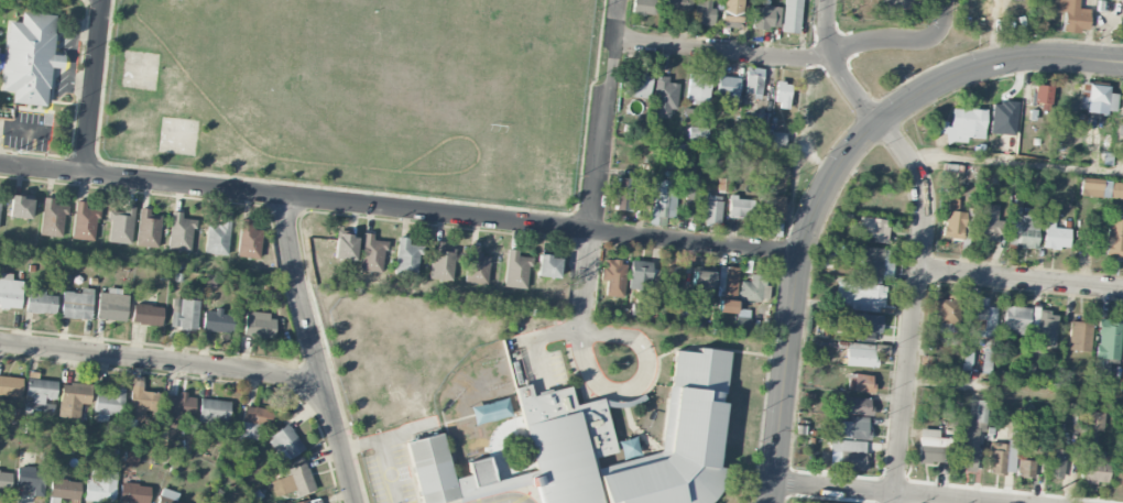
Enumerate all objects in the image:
building: (1122, 1)
building: (678, 4)
building: (895, 4)
building: (643, 7)
building: (704, 12)
building: (732, 13)
building: (791, 15)
building: (1072, 15)
building: (766, 17)
road: (903, 41)
road: (723, 50)
building: (29, 57)
road: (994, 63)
road: (838, 67)
building: (752, 83)
building: (639, 84)
building: (698, 86)
road: (96, 87)
building: (727, 87)
park: (361, 91)
building: (782, 92)
building: (1042, 96)
building: (664, 97)
building: (1027, 97)
building: (1097, 97)
road: (604, 117)
building: (961, 124)
building: (697, 133)
building: (752, 135)
building: (777, 139)
road: (1016, 163)
building: (1101, 188)
building: (624, 194)
building: (693, 198)
building: (663, 200)
building: (0, 201)
building: (770, 206)
building: (21, 207)
building: (740, 207)
building: (712, 208)
road: (399, 210)
building: (52, 218)
building: (952, 219)
building: (84, 221)
building: (988, 222)
building: (120, 225)
building: (148, 228)
building: (873, 228)
building: (775, 229)
building: (1022, 229)
building: (181, 231)
building: (218, 237)
building: (1055, 237)
building: (1114, 238)
building: (249, 239)
building: (345, 247)
building: (371, 253)
building: (406, 256)
building: (869, 260)
building: (440, 261)
building: (476, 265)
building: (548, 265)
building: (516, 270)
building: (668, 274)
building: (639, 275)
building: (613, 276)
road: (1021, 277)
building: (727, 278)
road: (585, 281)
building: (701, 282)
building: (753, 288)
building: (10, 292)
building: (728, 295)
building: (860, 295)
road: (794, 299)
building: (40, 300)
building: (76, 305)
building: (112, 305)
building: (726, 306)
road: (914, 306)
road: (305, 309)
building: (642, 309)
building: (948, 309)
building: (146, 314)
building: (185, 314)
building: (981, 317)
building: (1015, 319)
building: (216, 320)
building: (865, 322)
building: (258, 324)
building: (1044, 327)
building: (1079, 333)
building: (1108, 339)
building: (863, 353)
building: (985, 361)
road: (218, 365)
road: (641, 381)
building: (860, 382)
building: (10, 386)
building: (40, 391)
road: (1015, 391)
building: (74, 397)
building: (140, 400)
building: (109, 404)
building: (852, 405)
building: (178, 407)
building: (214, 411)
building: (253, 423)
building: (1093, 425)
building: (850, 427)
road: (402, 434)
building: (970, 436)
building: (285, 442)
building: (931, 446)
building: (599, 447)
road: (384, 452)
building: (850, 453)
building: (1002, 457)
building: (1057, 462)
building: (1025, 468)
building: (1093, 468)
building: (1119, 473)
building: (30, 479)
building: (4, 480)
building: (294, 480)
building: (100, 485)
building: (63, 490)
road: (886, 491)
building: (133, 493)
building: (167, 496)
road: (509, 499)
building: (312, 501)

